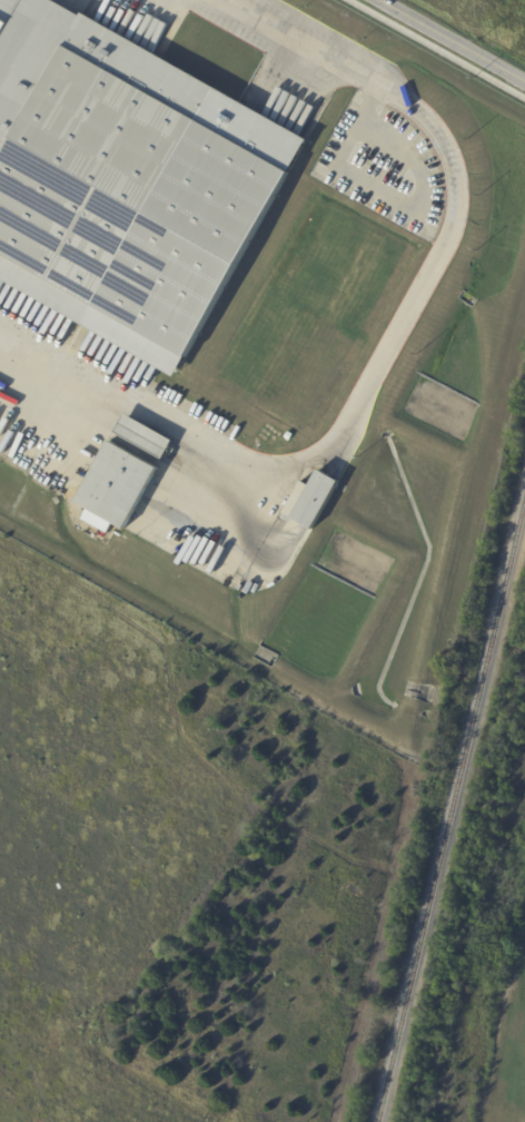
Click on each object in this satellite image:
road: (452, 40)
road: (437, 48)
building: (127, 180)
road: (393, 342)
building: (290, 436)
building: (147, 437)
building: (117, 489)
building: (318, 501)
railway: (452, 815)

